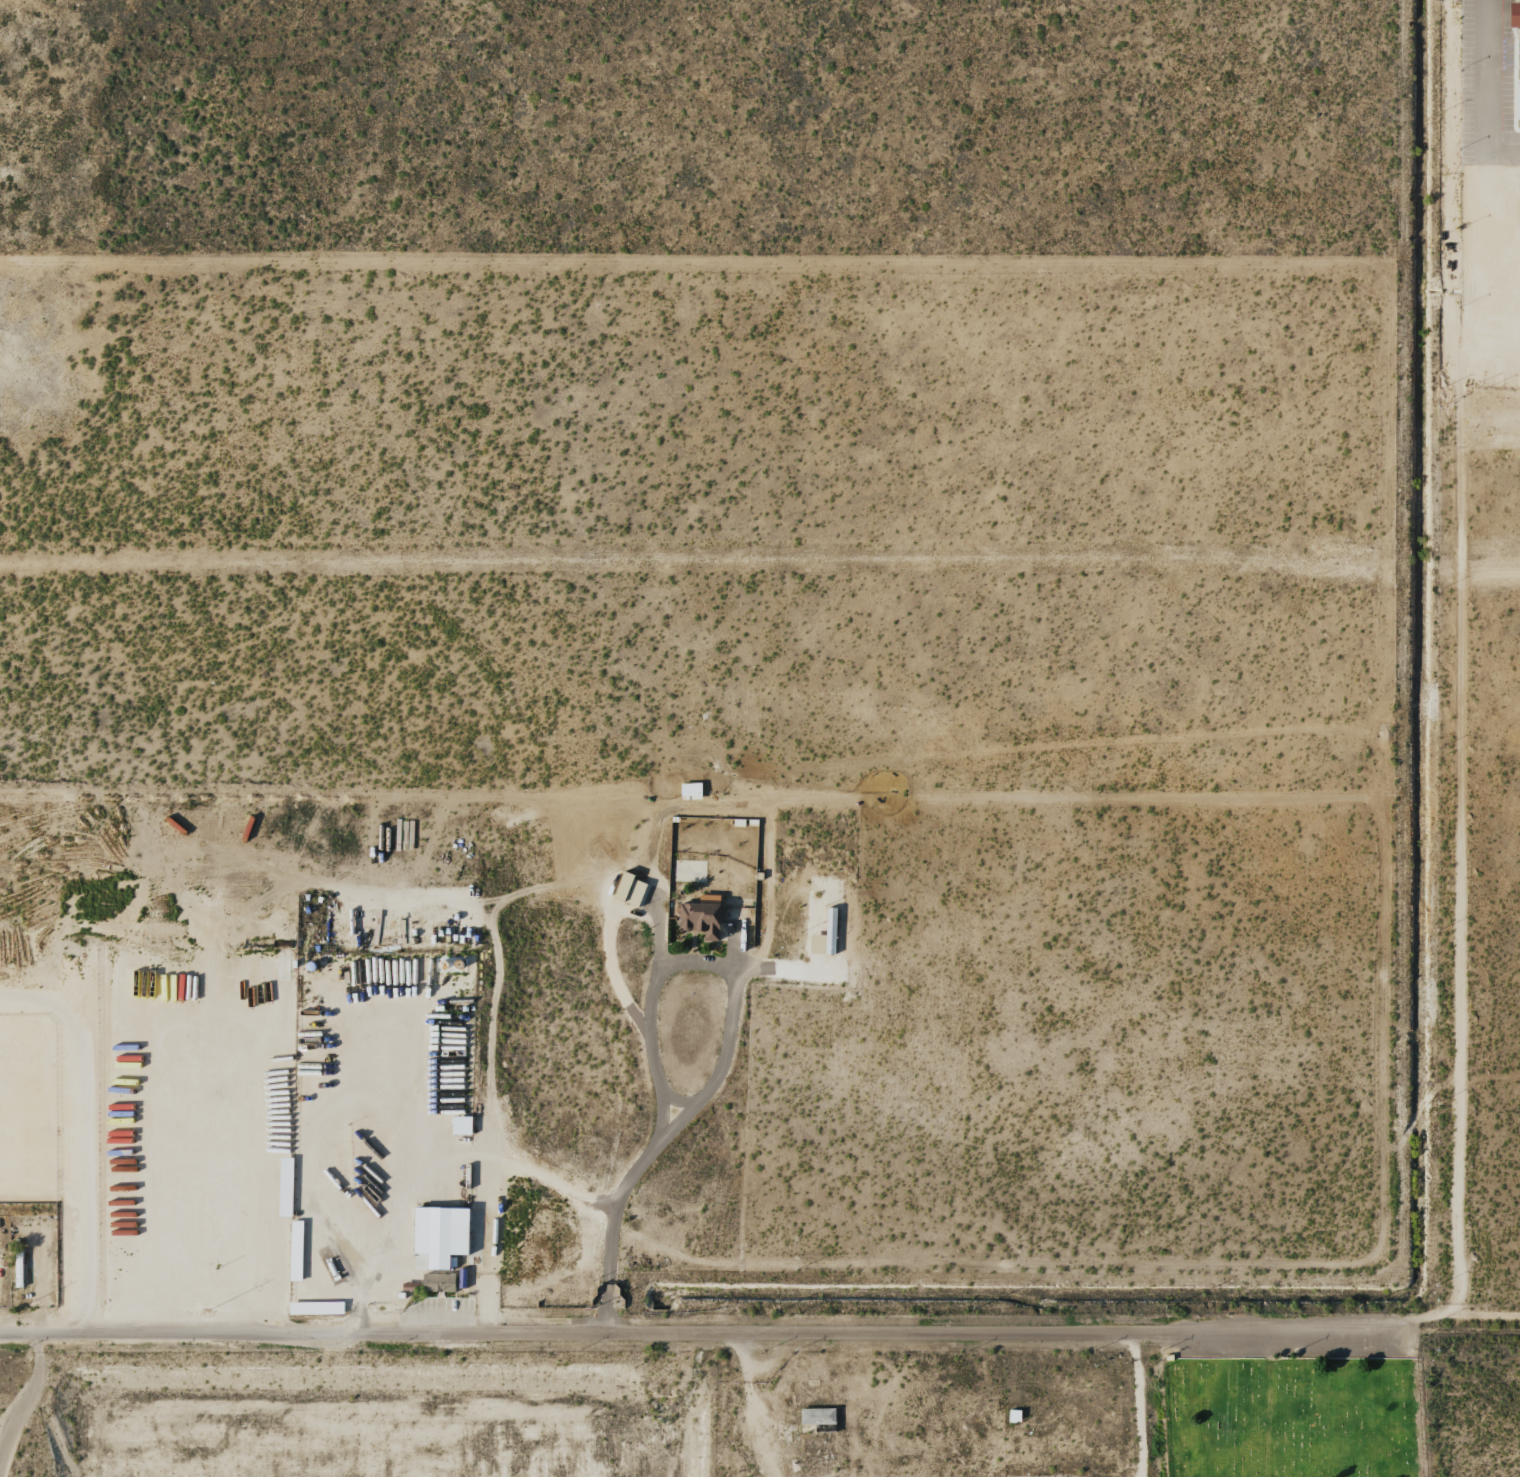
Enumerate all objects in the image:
building: (1512, 14)
building: (1517, 101)
building: (689, 789)
building: (627, 888)
building: (700, 916)
building: (824, 935)
building: (460, 1125)
building: (284, 1172)
building: (438, 1235)
building: (436, 1282)
building: (314, 1308)
road: (760, 1332)
building: (816, 1416)
park: (1291, 1416)
building: (824, 1428)

